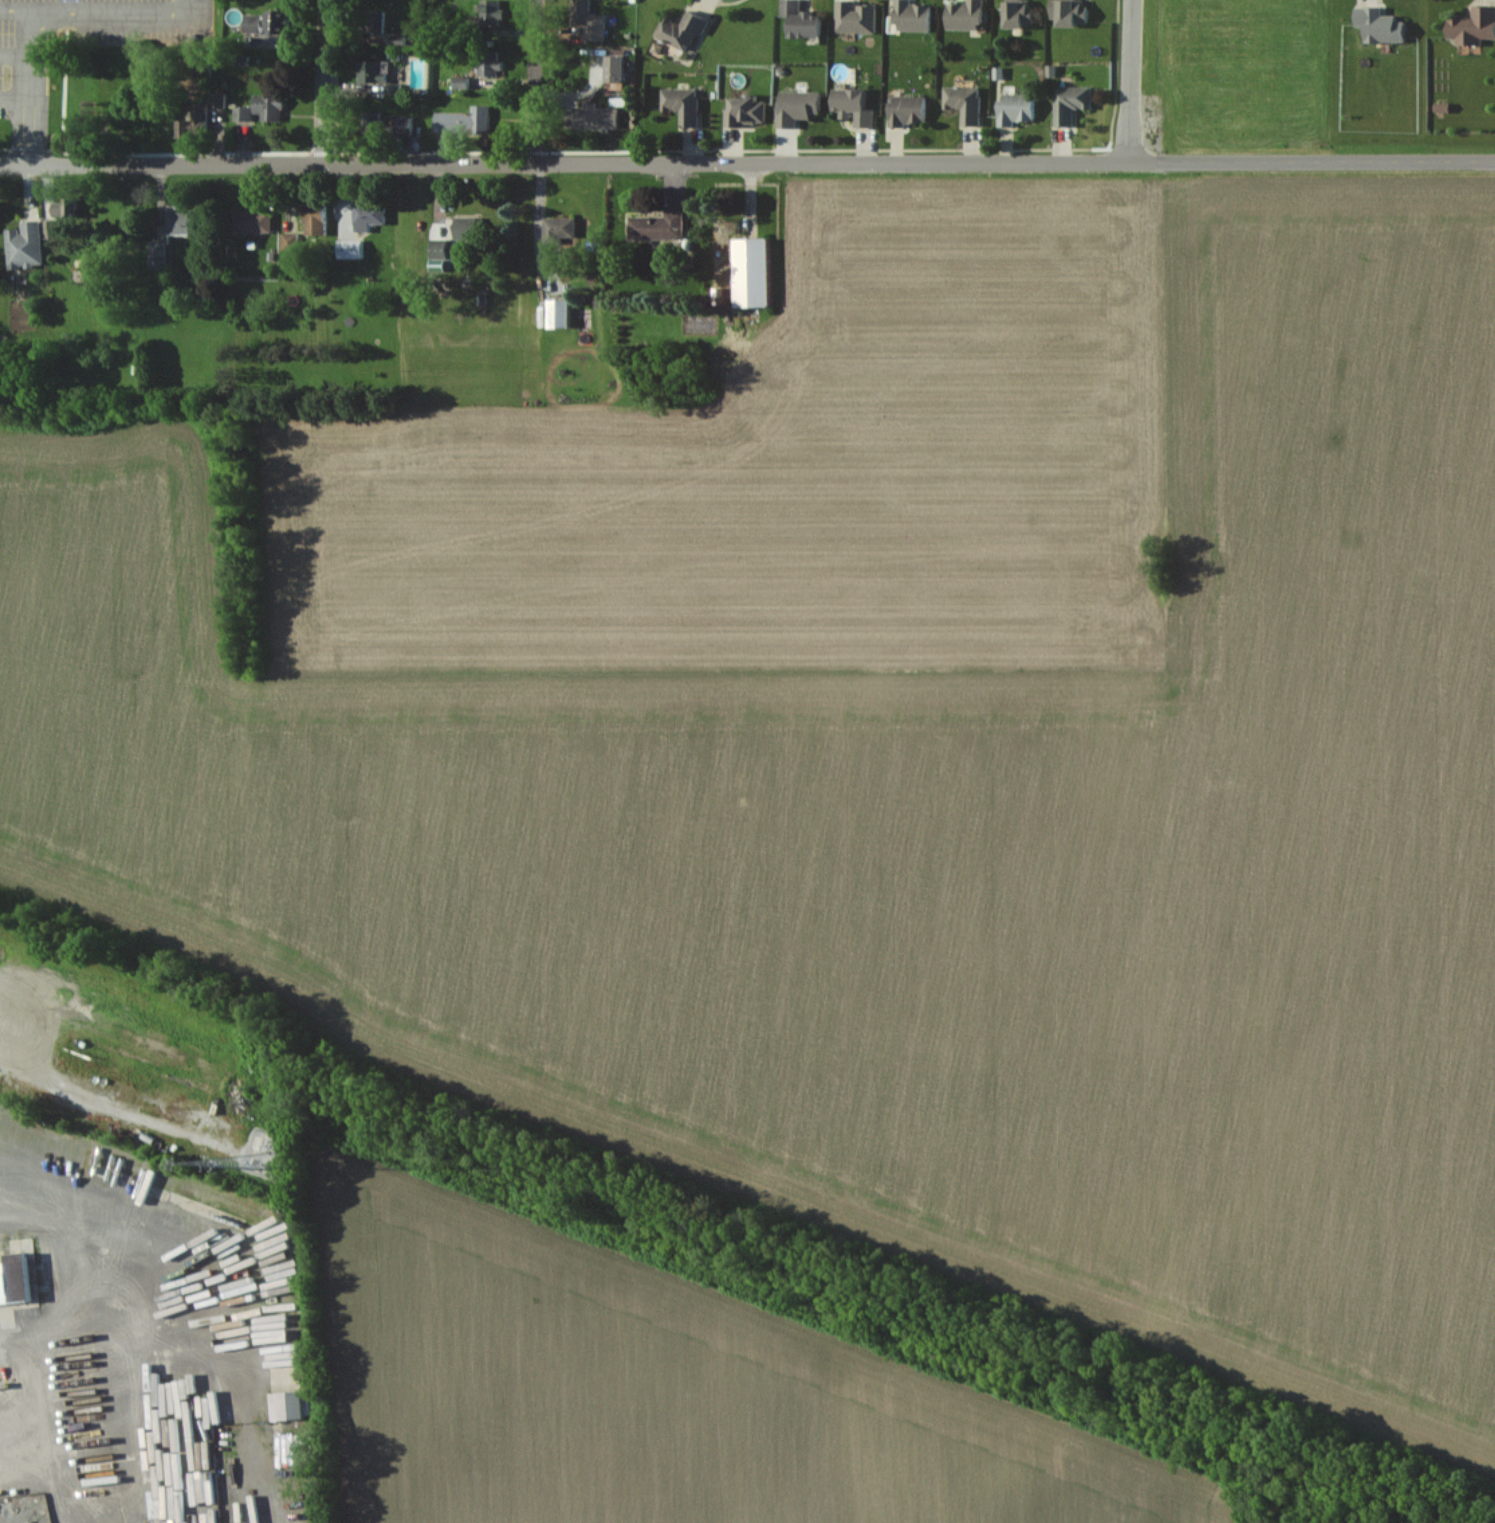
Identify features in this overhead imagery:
road: (16, 6)
road: (122, 6)
building: (1075, 12)
building: (1023, 13)
building: (969, 15)
building: (860, 16)
building: (913, 16)
building: (258, 20)
building: (808, 21)
building: (1471, 26)
building: (598, 27)
road: (1134, 81)
road: (325, 82)
road: (534, 82)
road: (32, 85)
building: (1075, 103)
building: (968, 104)
building: (686, 105)
building: (859, 105)
building: (801, 106)
building: (273, 107)
building: (1022, 108)
building: (755, 110)
building: (912, 111)
building: (480, 118)
building: (199, 120)
road: (1092, 163)
road: (344, 164)
building: (320, 220)
building: (0, 222)
building: (186, 222)
building: (256, 223)
building: (29, 245)
building: (564, 314)
building: (19, 1282)
road: (27, 1350)
building: (295, 1406)

